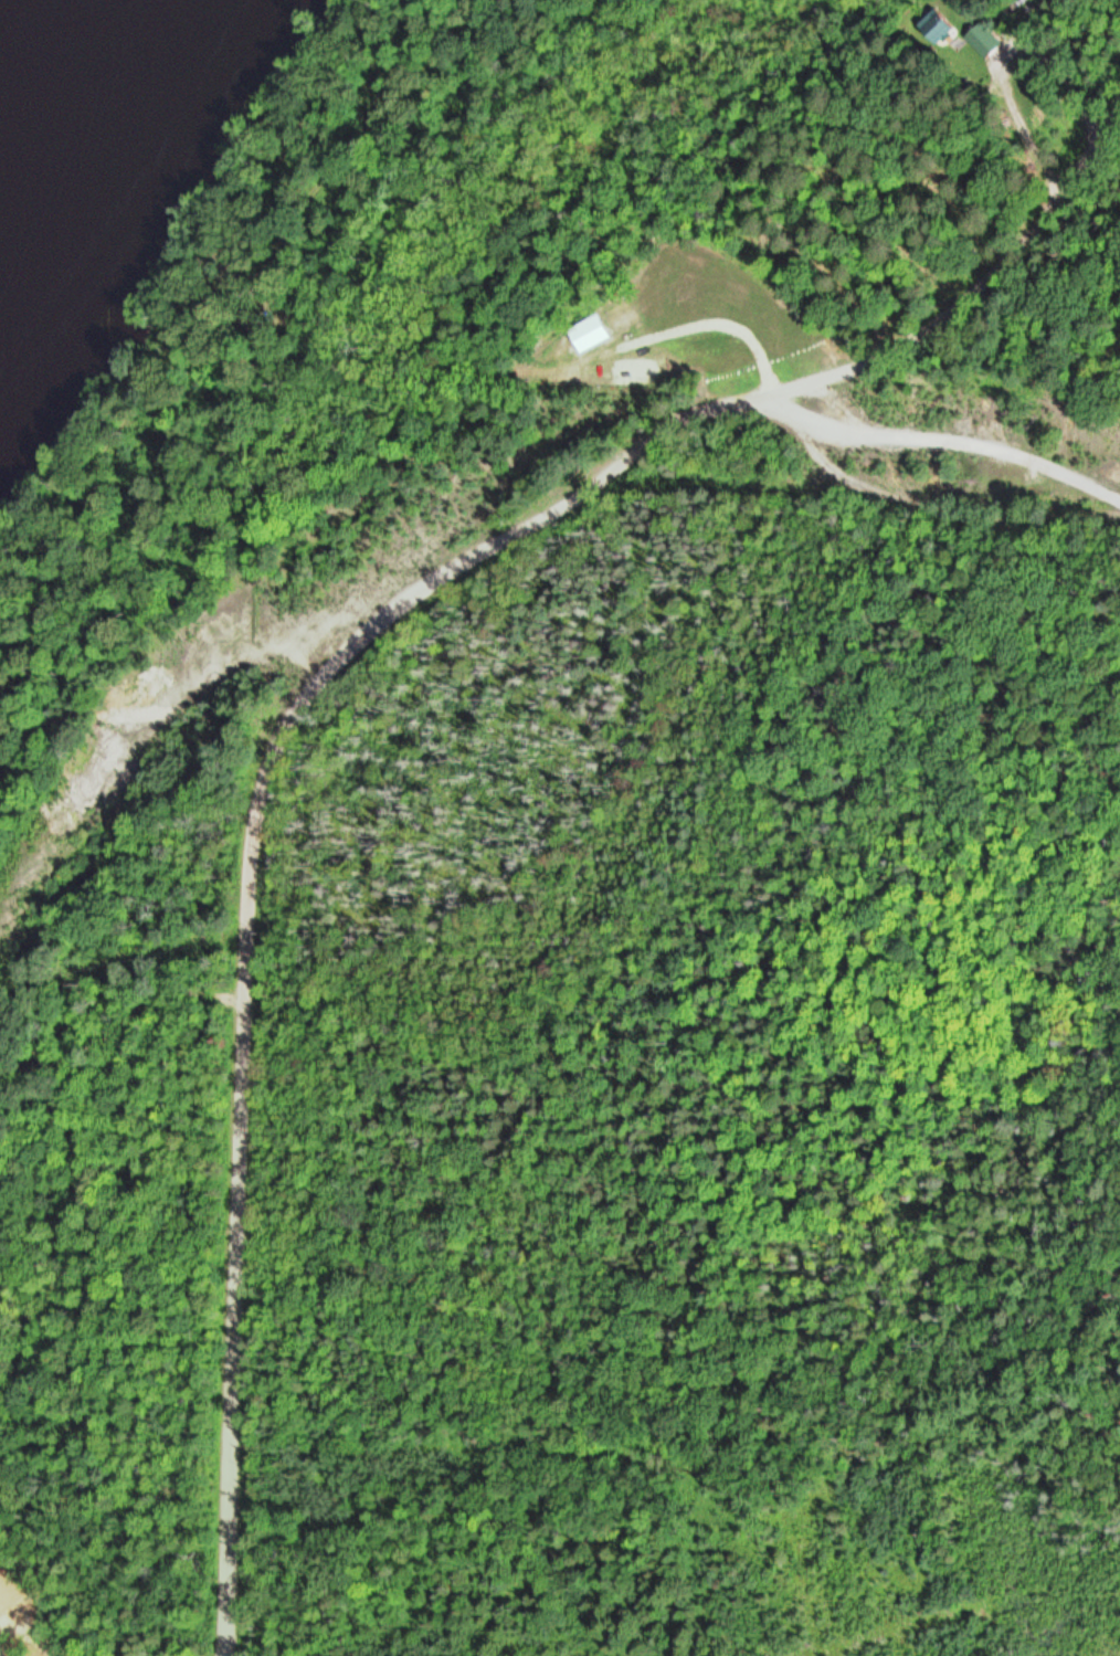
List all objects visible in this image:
river: (93, 146)
road: (941, 437)
road: (327, 672)
road: (1, 1650)

